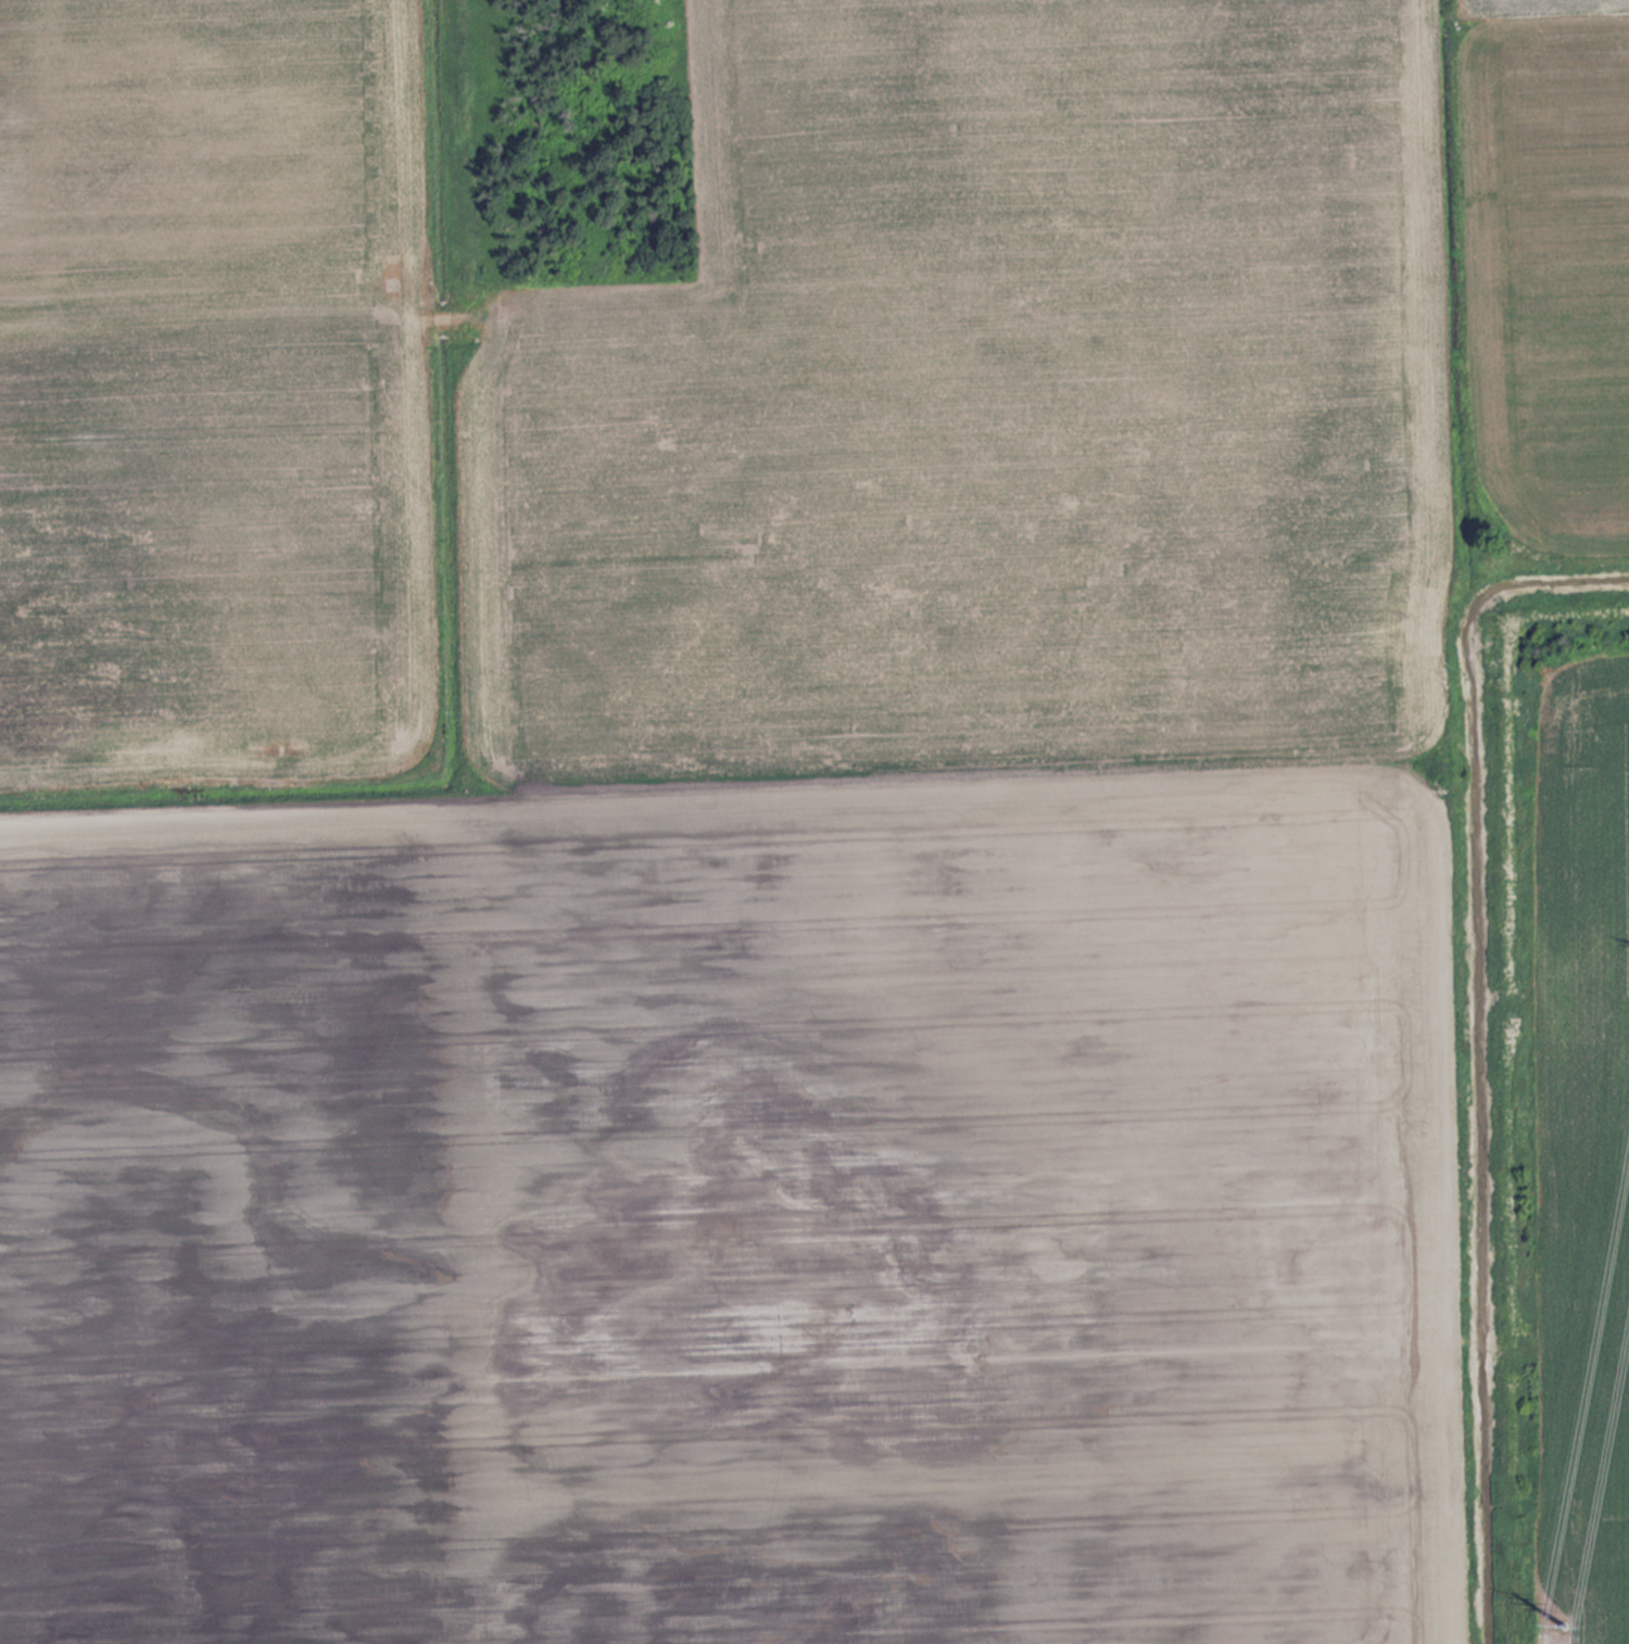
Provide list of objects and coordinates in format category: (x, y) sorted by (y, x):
power tower: (1562, 1618)

